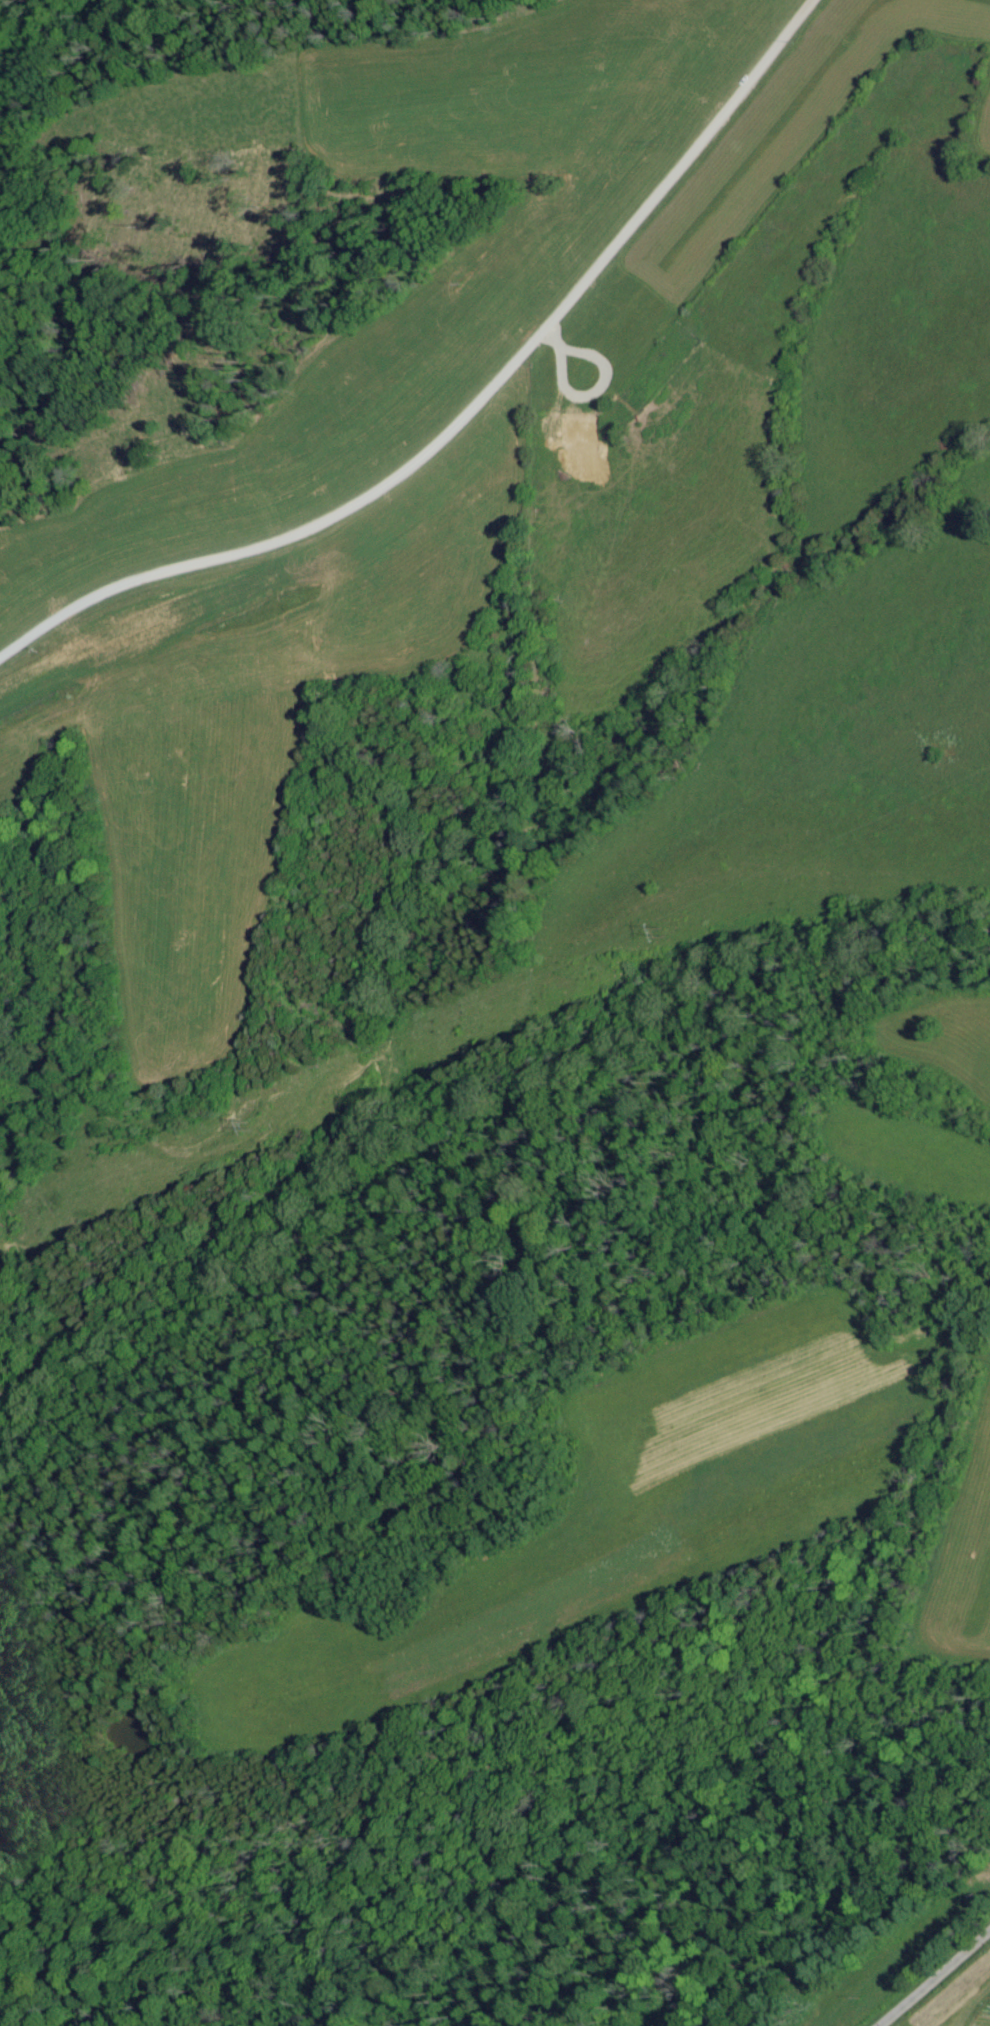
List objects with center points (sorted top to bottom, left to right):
road: (468, 409)
power tower: (658, 933)
power tower: (245, 1124)
road: (935, 1979)

